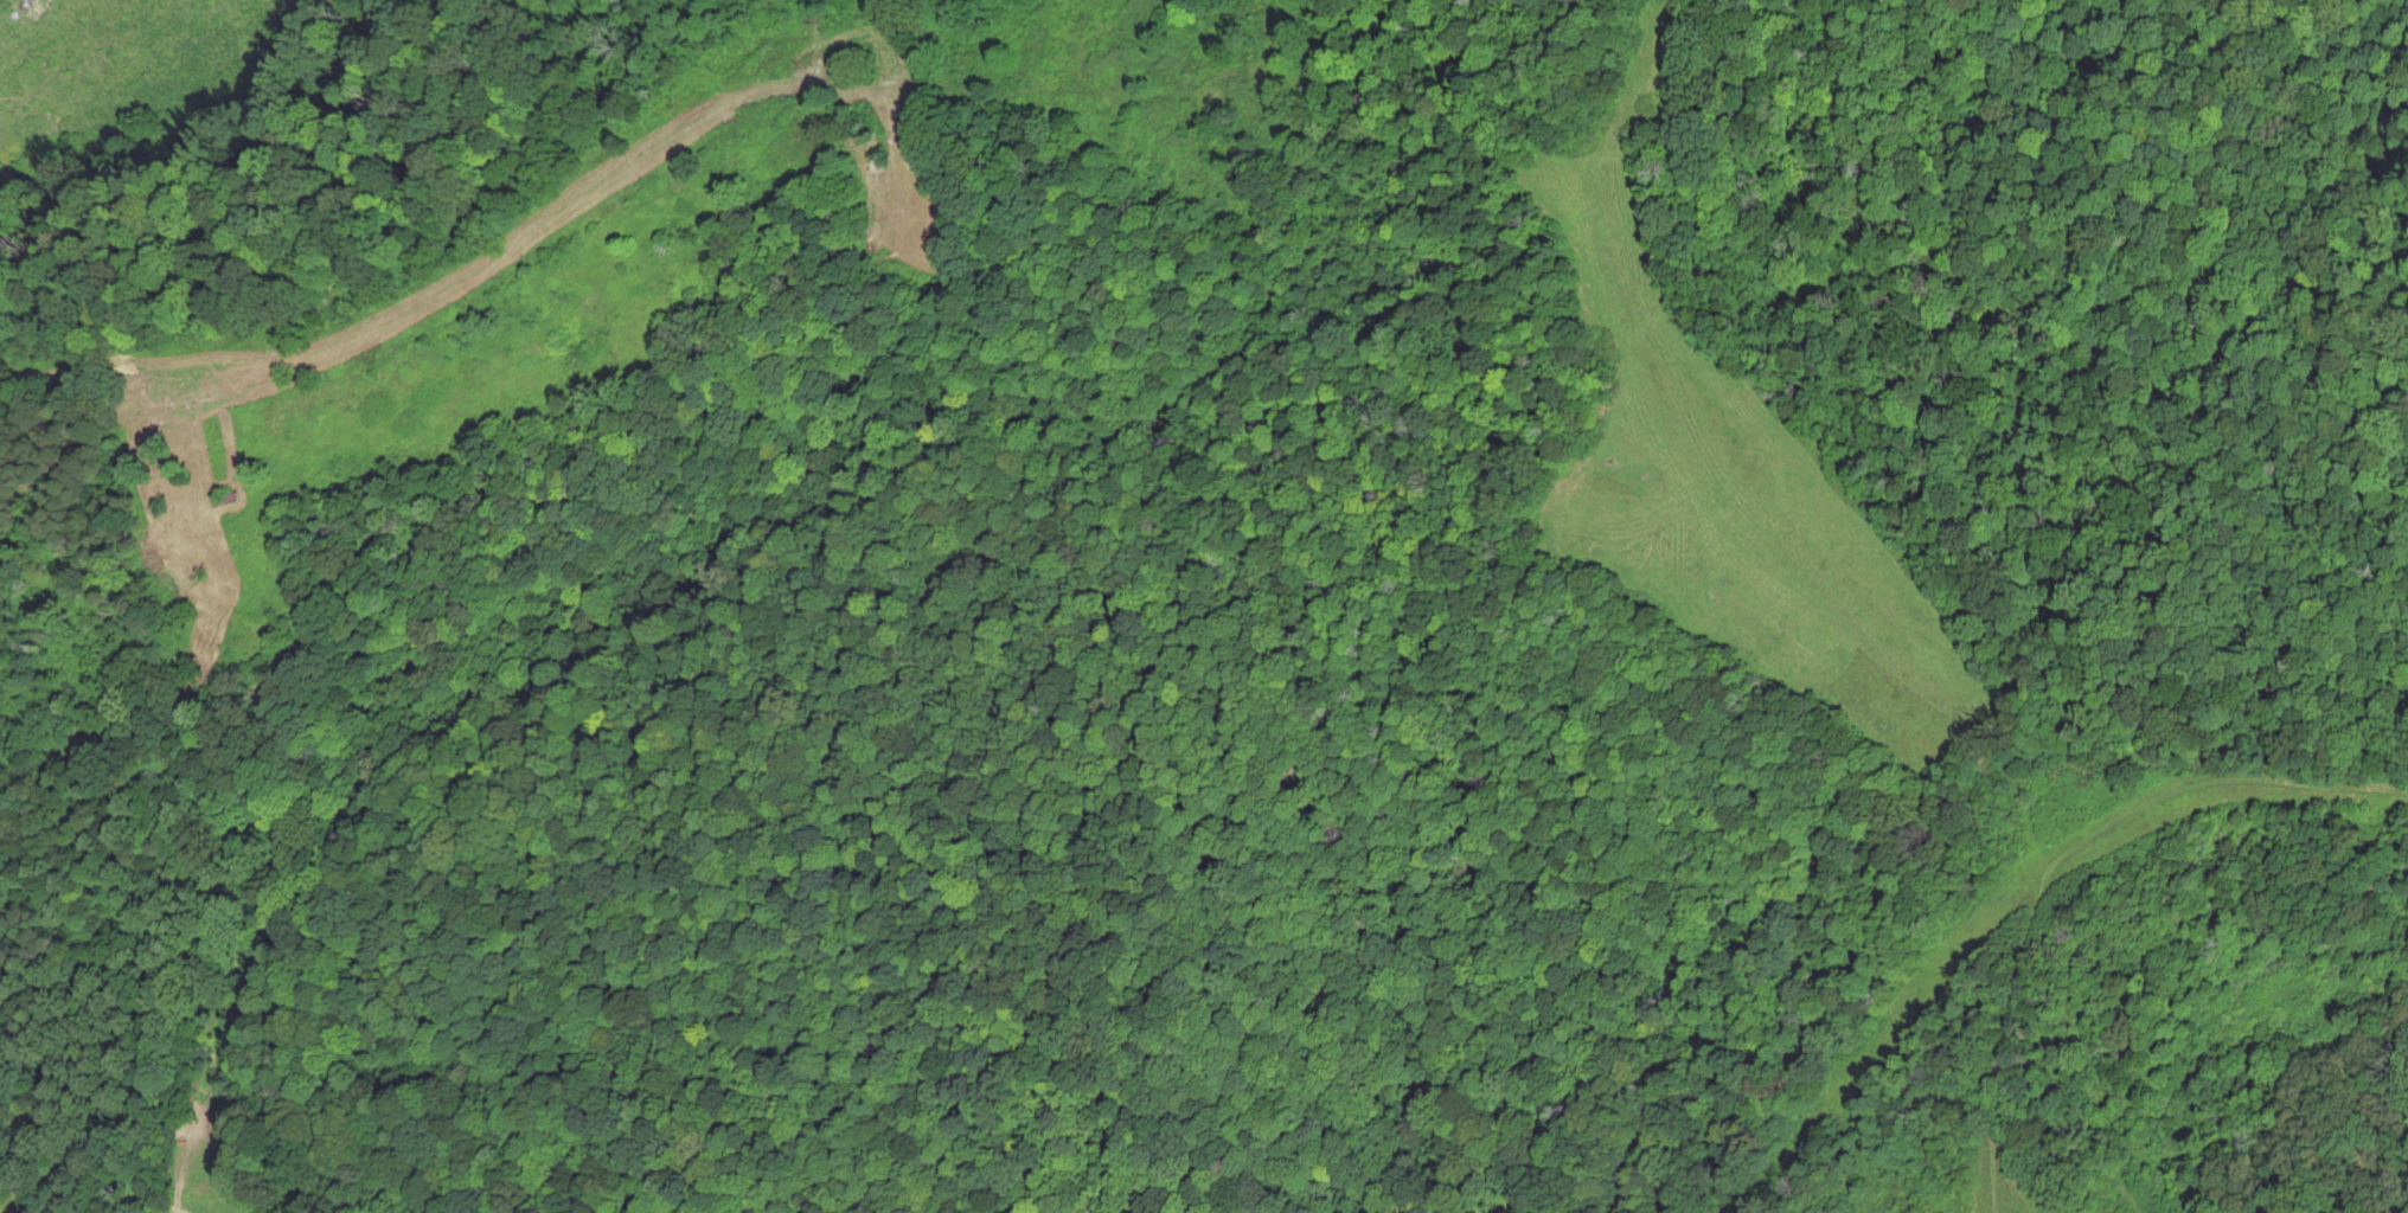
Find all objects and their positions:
building: (39, 12)
road: (873, 683)
road: (482, 1052)

